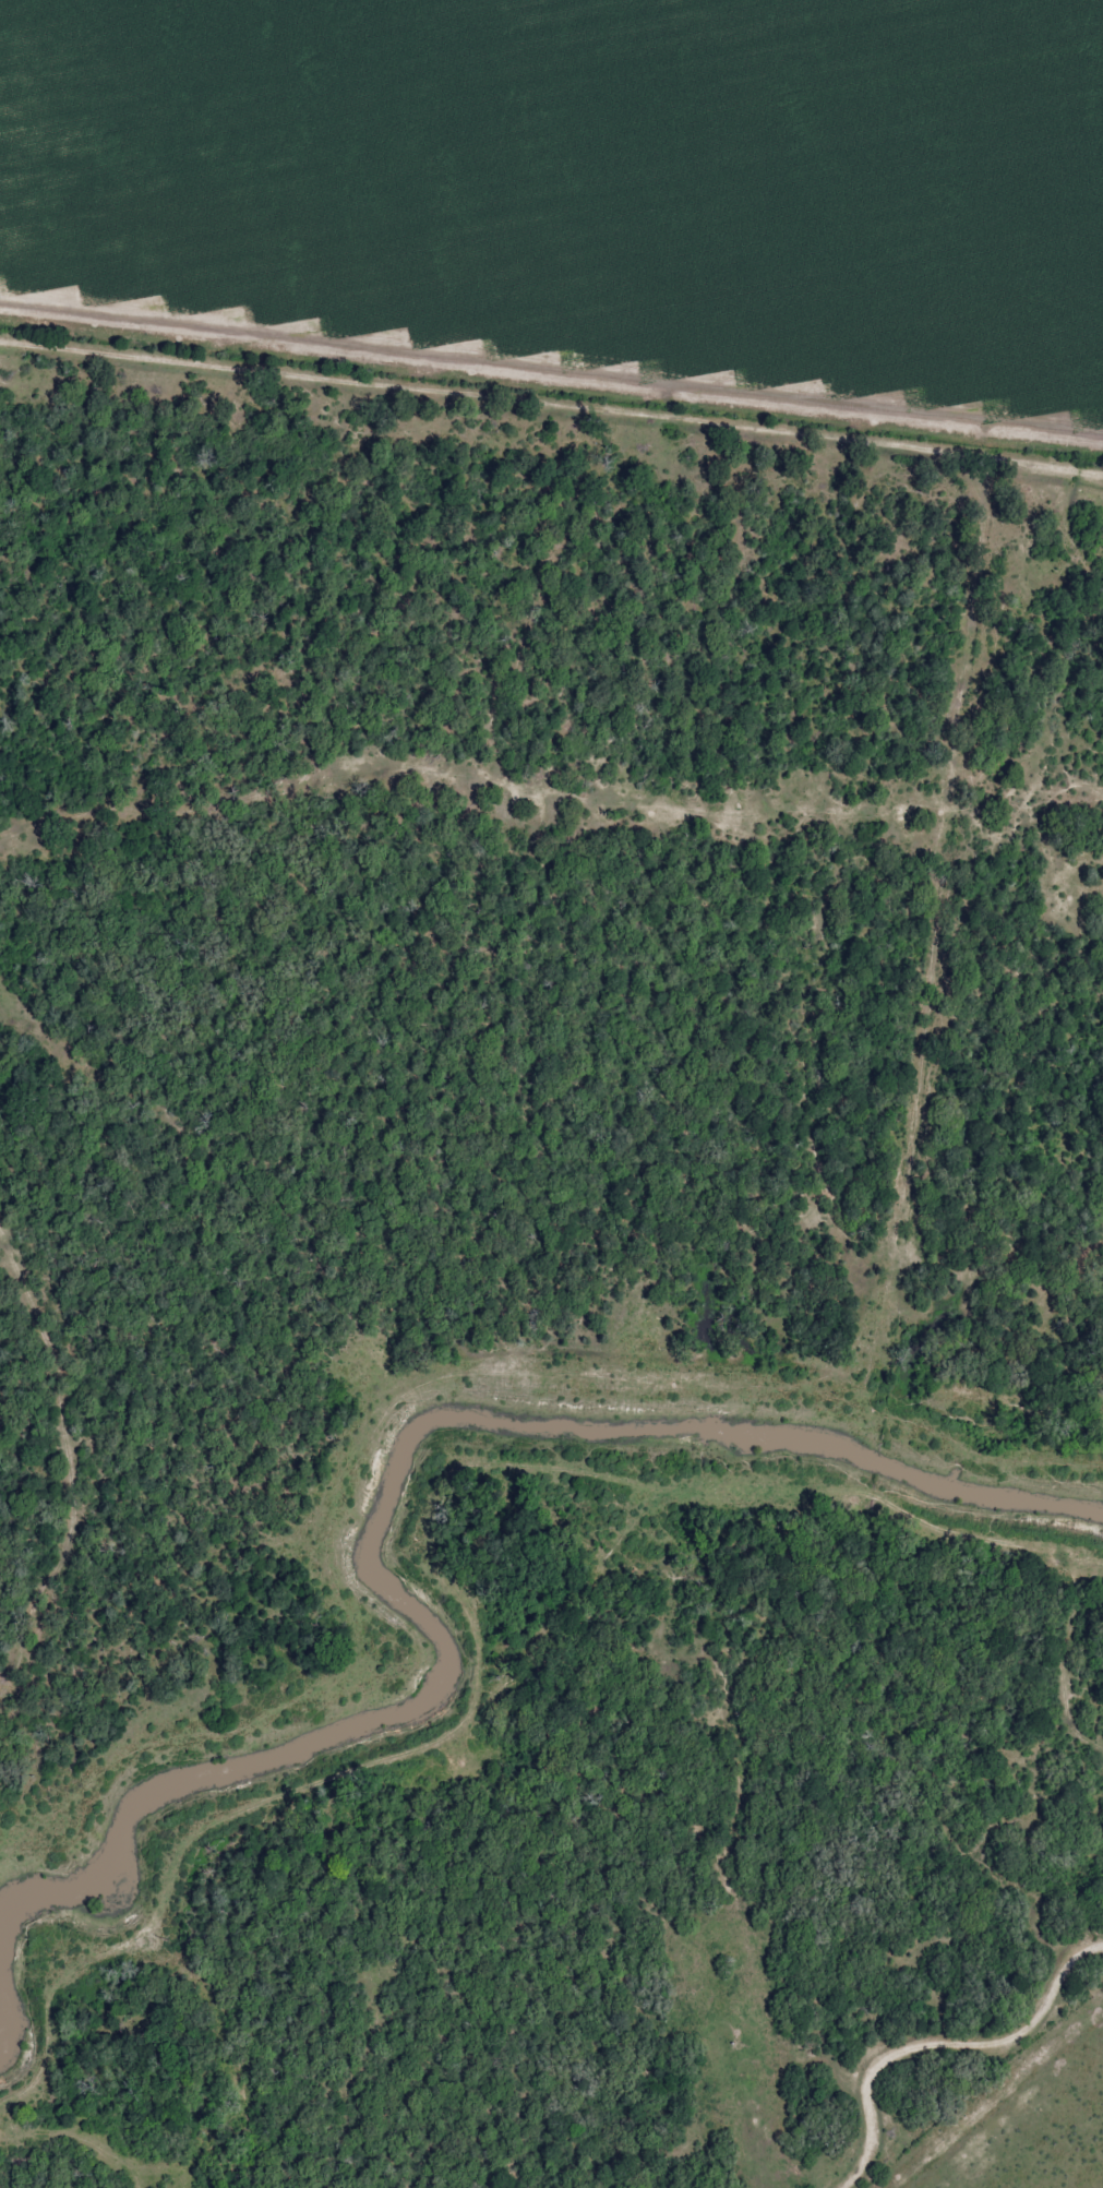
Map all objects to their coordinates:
road: (551, 402)
river: (370, 1554)
road: (944, 2038)

